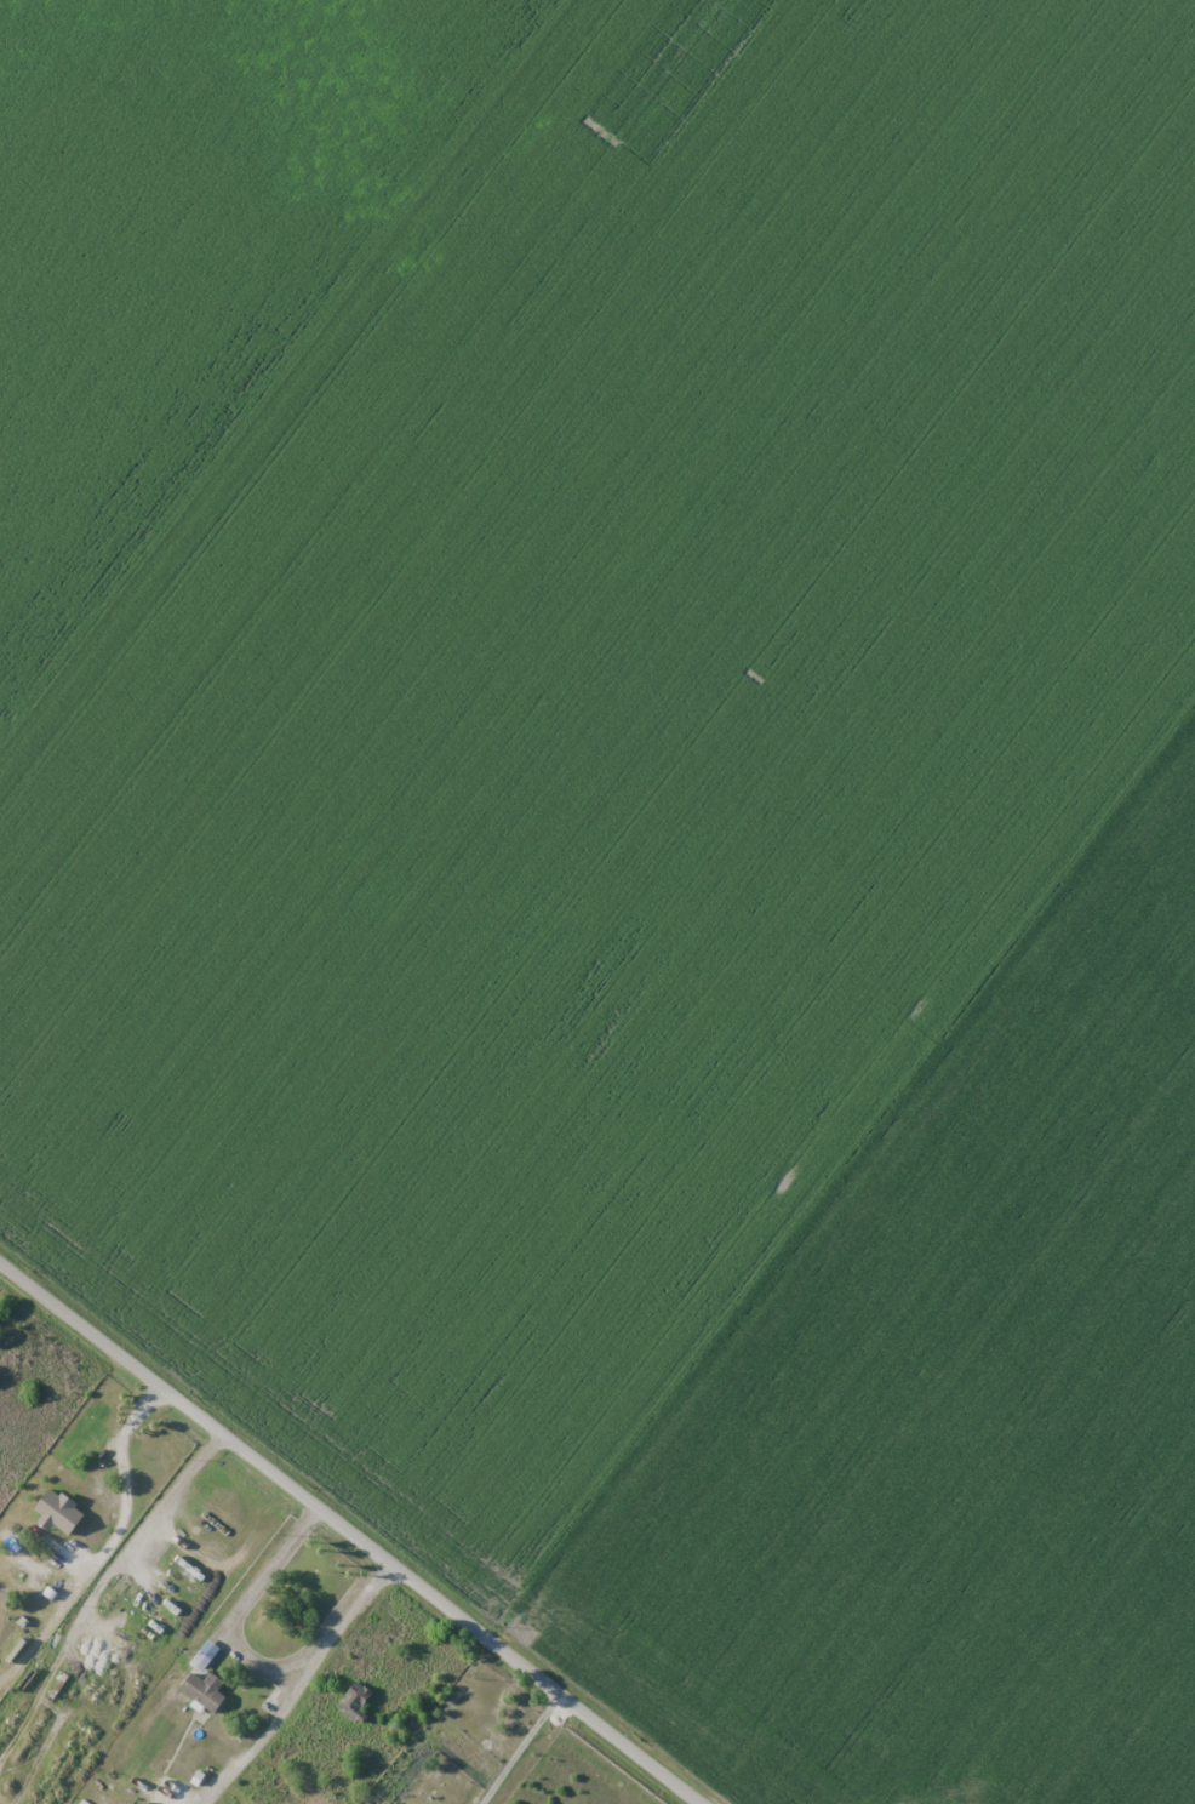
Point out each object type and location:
road: (125, 1483)
road: (347, 1537)
building: (28, 1563)
building: (205, 1691)
building: (354, 1702)

